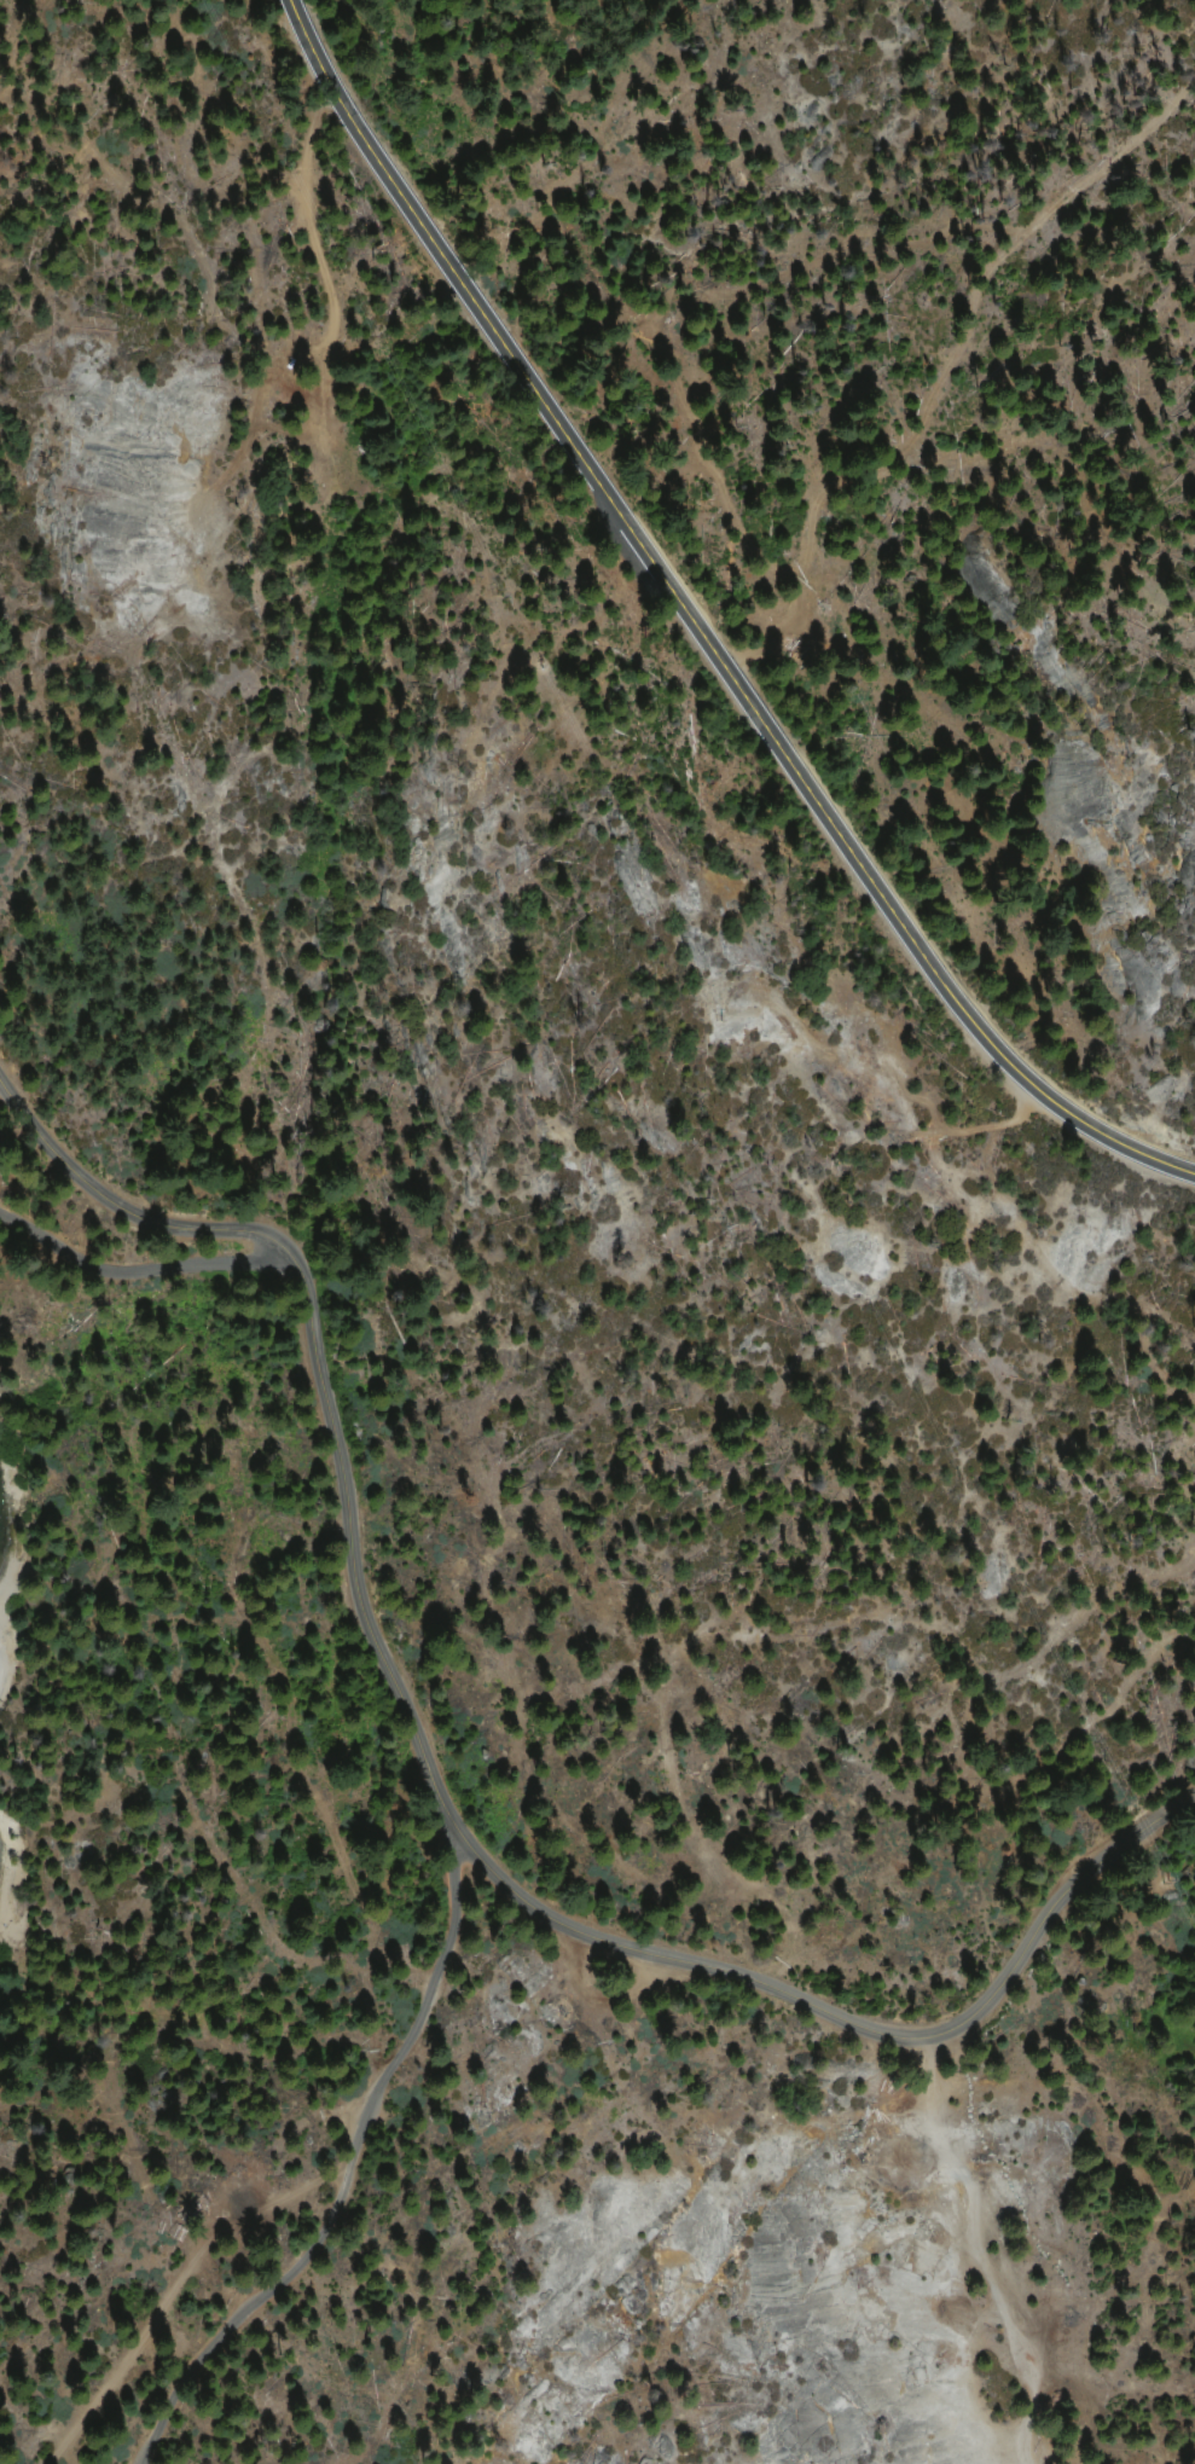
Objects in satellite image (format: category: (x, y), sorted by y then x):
road: (690, 636)
road: (445, 1803)
road: (350, 2173)
road: (981, 2250)

